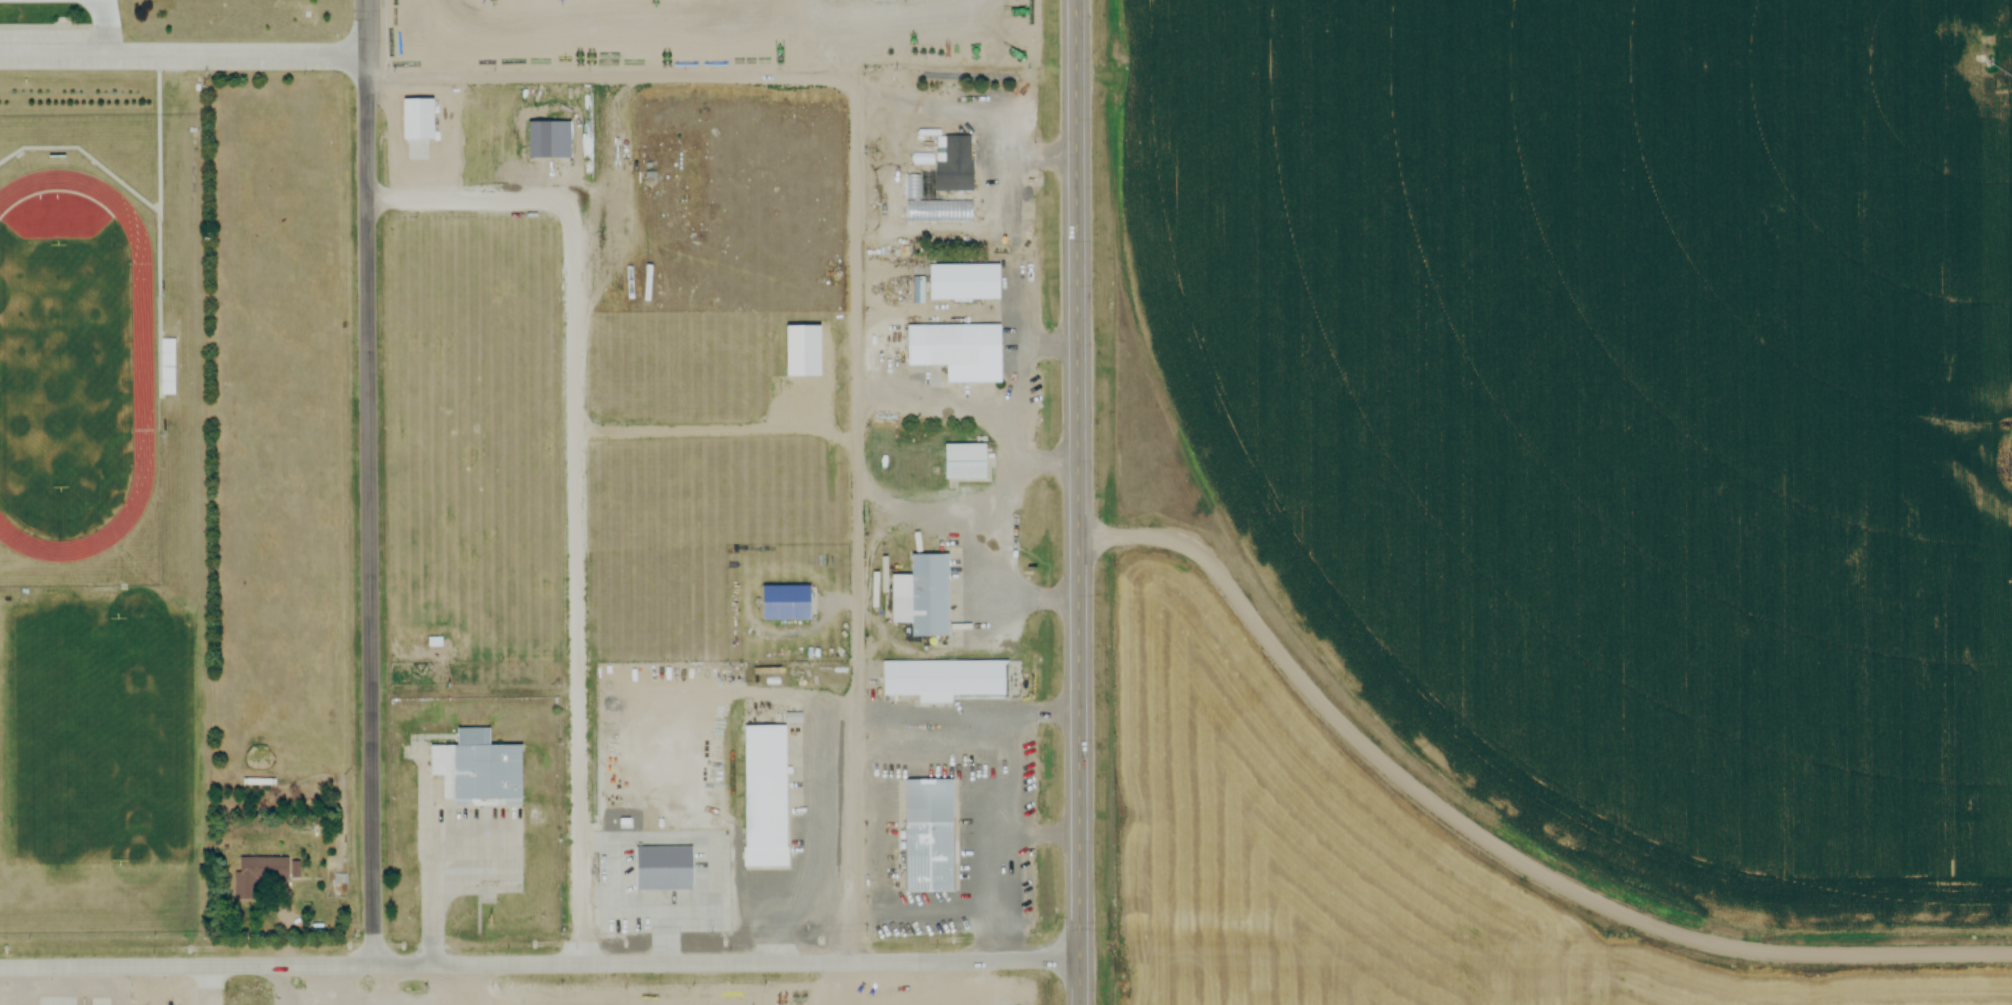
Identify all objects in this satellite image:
road: (104, 26)
road: (184, 53)
road: (613, 79)
building: (953, 165)
building: (962, 282)
building: (956, 351)
building: (165, 361)
track: (69, 366)
park: (65, 370)
building: (964, 462)
road: (368, 482)
road: (1078, 502)
road: (860, 519)
building: (921, 595)
building: (784, 602)
building: (434, 642)
building: (947, 678)
building: (476, 767)
building: (765, 797)
building: (927, 836)
road: (1494, 842)
airport: (1356, 862)
building: (259, 871)
building: (569, 894)
road: (540, 963)
road: (211, 985)

